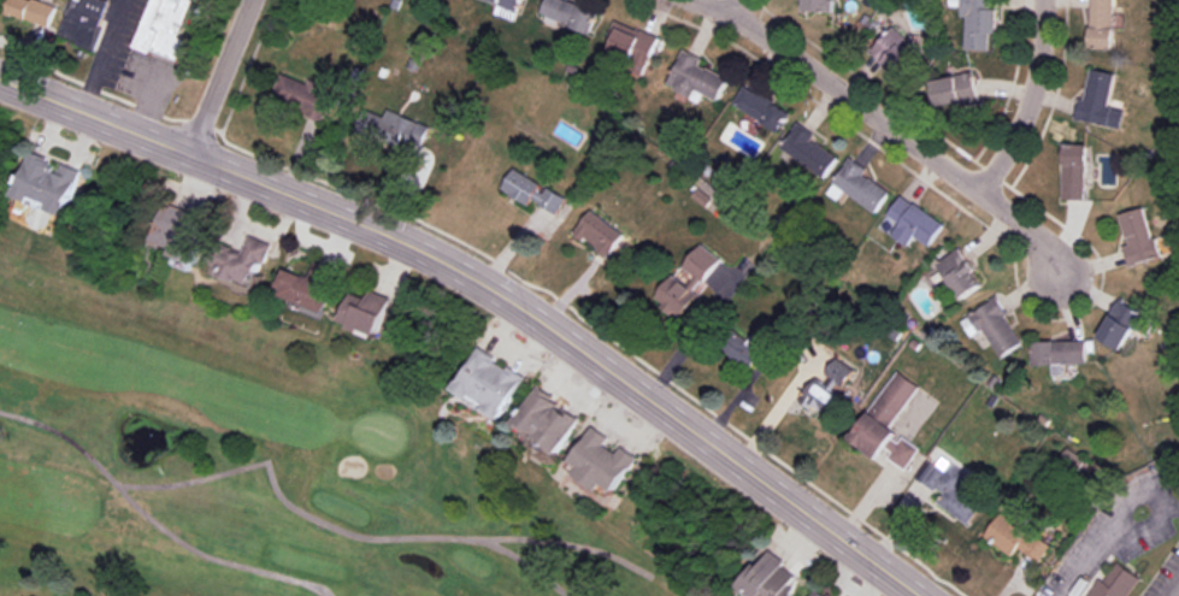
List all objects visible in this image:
building: (508, 2)
building: (820, 5)
road: (732, 7)
building: (31, 10)
building: (570, 13)
building: (83, 20)
building: (978, 23)
building: (1101, 23)
building: (165, 29)
building: (633, 46)
building: (895, 52)
road: (106, 57)
building: (696, 77)
road: (223, 78)
building: (956, 90)
road: (839, 92)
building: (302, 95)
building: (1100, 100)
road: (1028, 101)
building: (761, 107)
road: (95, 117)
building: (395, 128)
building: (809, 151)
building: (1074, 171)
building: (51, 183)
building: (859, 185)
building: (534, 190)
building: (914, 222)
road: (1030, 224)
building: (181, 231)
building: (600, 232)
building: (1139, 236)
building: (243, 261)
building: (702, 262)
building: (961, 273)
building: (310, 285)
building: (677, 296)
building: (367, 312)
building: (1121, 324)
building: (995, 326)
road: (572, 341)
building: (750, 353)
building: (1060, 354)
building: (491, 383)
building: (820, 396)
building: (548, 420)
building: (888, 421)
building: (605, 460)
park: (257, 470)
building: (951, 488)
road: (1154, 501)
building: (1016, 536)
road: (1086, 562)
building: (772, 577)
building: (1114, 582)
building: (821, 592)

